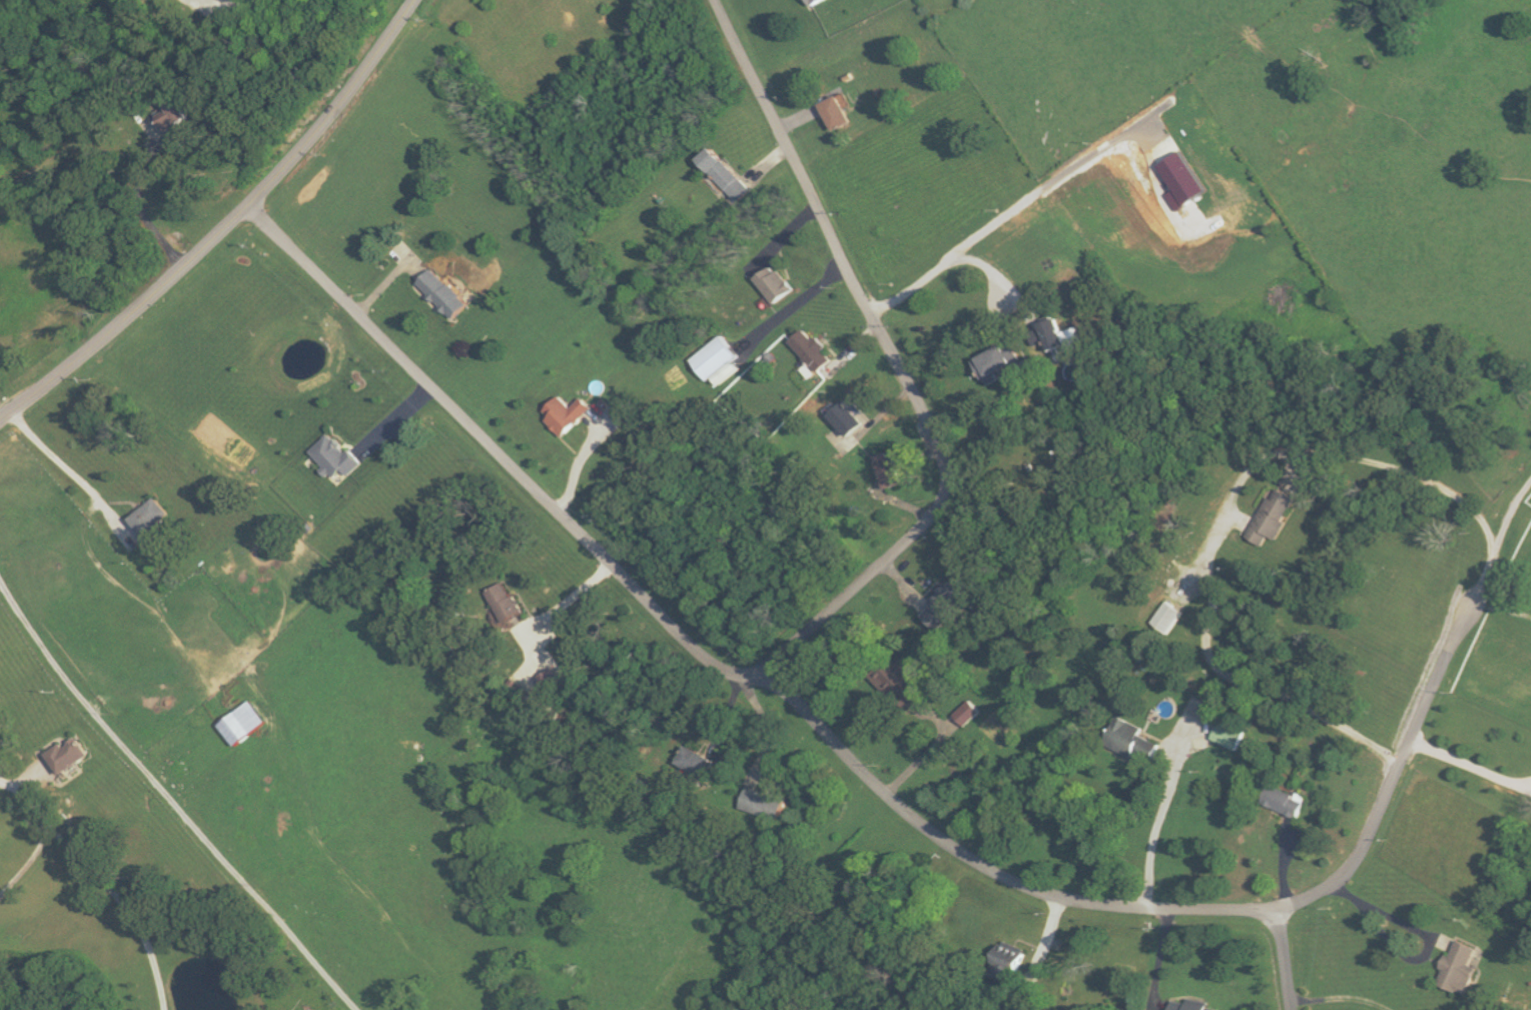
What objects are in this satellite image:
building: (816, 1)
road: (242, 2)
road: (253, 2)
road: (217, 13)
building: (836, 114)
building: (725, 175)
building: (1183, 181)
road: (1047, 190)
road: (142, 210)
road: (226, 229)
road: (954, 261)
building: (775, 285)
building: (445, 294)
road: (795, 306)
building: (1064, 340)
building: (811, 351)
building: (994, 363)
building: (566, 415)
building: (845, 420)
building: (336, 458)
road: (66, 468)
building: (888, 471)
road: (1234, 498)
road: (1512, 516)
building: (149, 520)
building: (1272, 521)
building: (504, 604)
building: (942, 605)
road: (1500, 610)
building: (1167, 618)
road: (801, 640)
building: (901, 679)
building: (964, 713)
building: (242, 723)
road: (767, 725)
building: (1230, 731)
building: (1123, 735)
building: (1148, 744)
building: (68, 755)
road: (918, 762)
road: (1468, 763)
road: (171, 801)
building: (1283, 802)
building: (760, 804)
road: (1154, 833)
road: (28, 862)
road: (104, 879)
road: (1163, 910)
road: (1429, 940)
road: (1285, 959)
road: (1158, 960)
building: (1005, 963)
building: (1458, 968)
road: (1341, 998)

